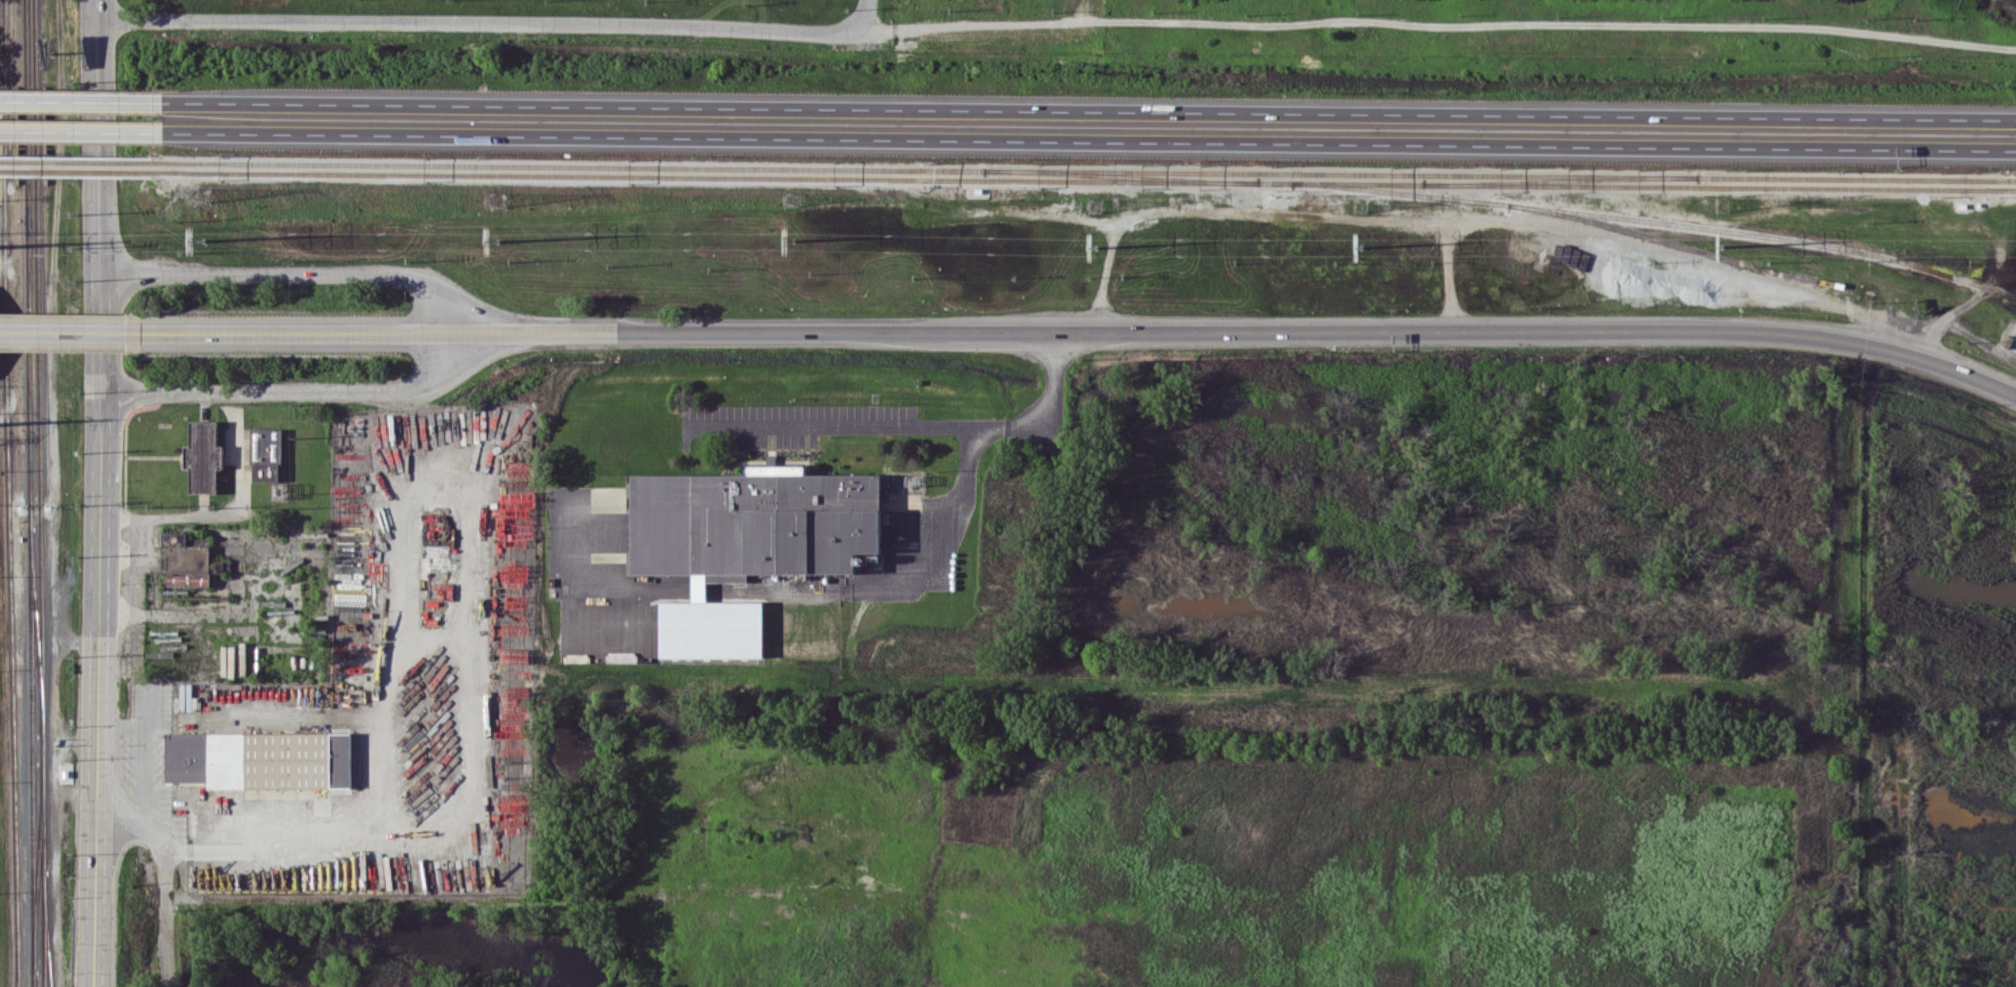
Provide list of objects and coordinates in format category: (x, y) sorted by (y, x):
road: (1806, 14)
road: (1440, 22)
road: (493, 29)
road: (81, 100)
road: (1089, 110)
road: (81, 130)
road: (1089, 139)
railway: (80, 169)
railway: (1088, 173)
railway: (80, 178)
railway: (1119, 178)
railway: (1088, 182)
railway: (1560, 183)
railway: (1657, 222)
power tower: (201, 238)
power tower: (792, 238)
power tower: (495, 239)
power tower: (1361, 244)
power tower: (1723, 244)
power tower: (1094, 246)
railway: (1699, 249)
railway: (26, 263)
road: (297, 273)
road: (1253, 330)
road: (71, 331)
road: (312, 332)
road: (1935, 342)
railway: (38, 367)
road: (295, 387)
road: (908, 424)
building: (264, 454)
building: (201, 456)
railway: (6, 493)
road: (89, 493)
road: (224, 512)
road: (936, 541)
building: (744, 542)
building: (185, 561)
road: (607, 581)
road: (701, 591)
road: (772, 592)
road: (196, 612)
railway: (34, 631)
road: (421, 639)
road: (143, 738)
railway: (30, 757)
building: (259, 759)
road: (470, 774)
road: (128, 823)
railway: (41, 861)
railway: (37, 867)
railway: (45, 928)

